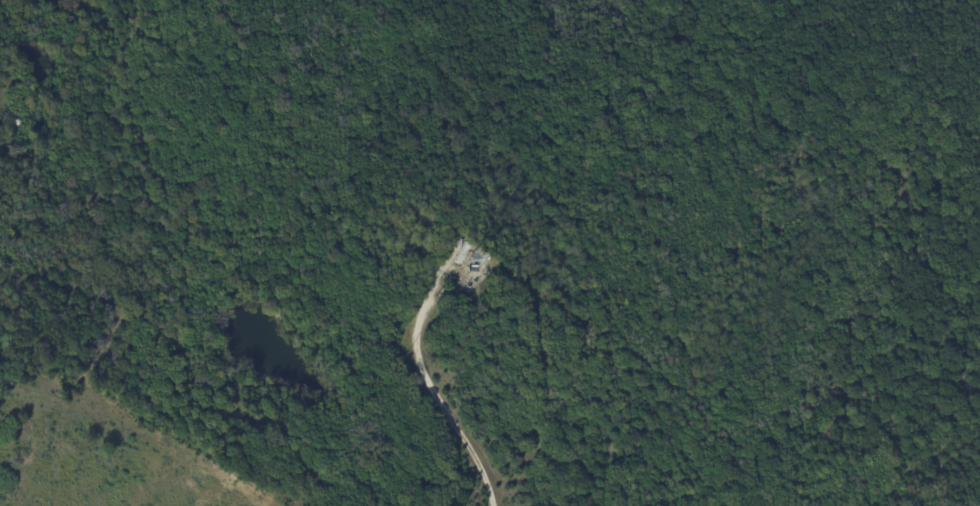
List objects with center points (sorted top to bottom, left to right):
building: (15, 120)
building: (460, 244)
building: (466, 255)
road: (433, 392)

